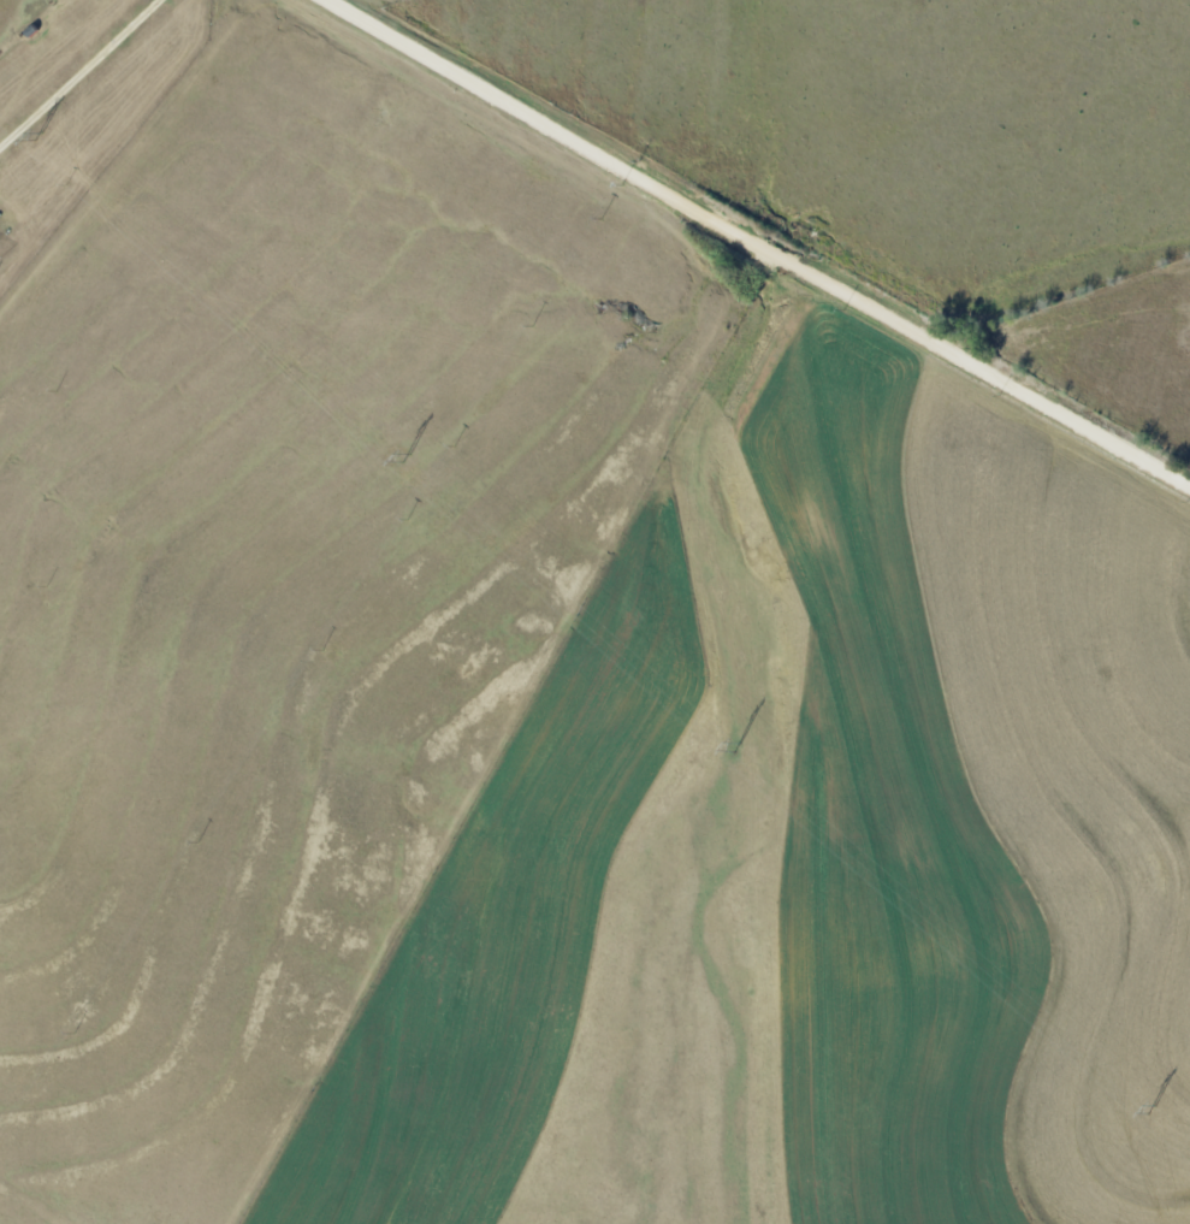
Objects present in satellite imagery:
road: (45, 32)
road: (77, 72)
power tower: (42, 136)
road: (759, 243)
power tower: (409, 456)
power tower: (740, 747)
power tower: (1154, 1108)

